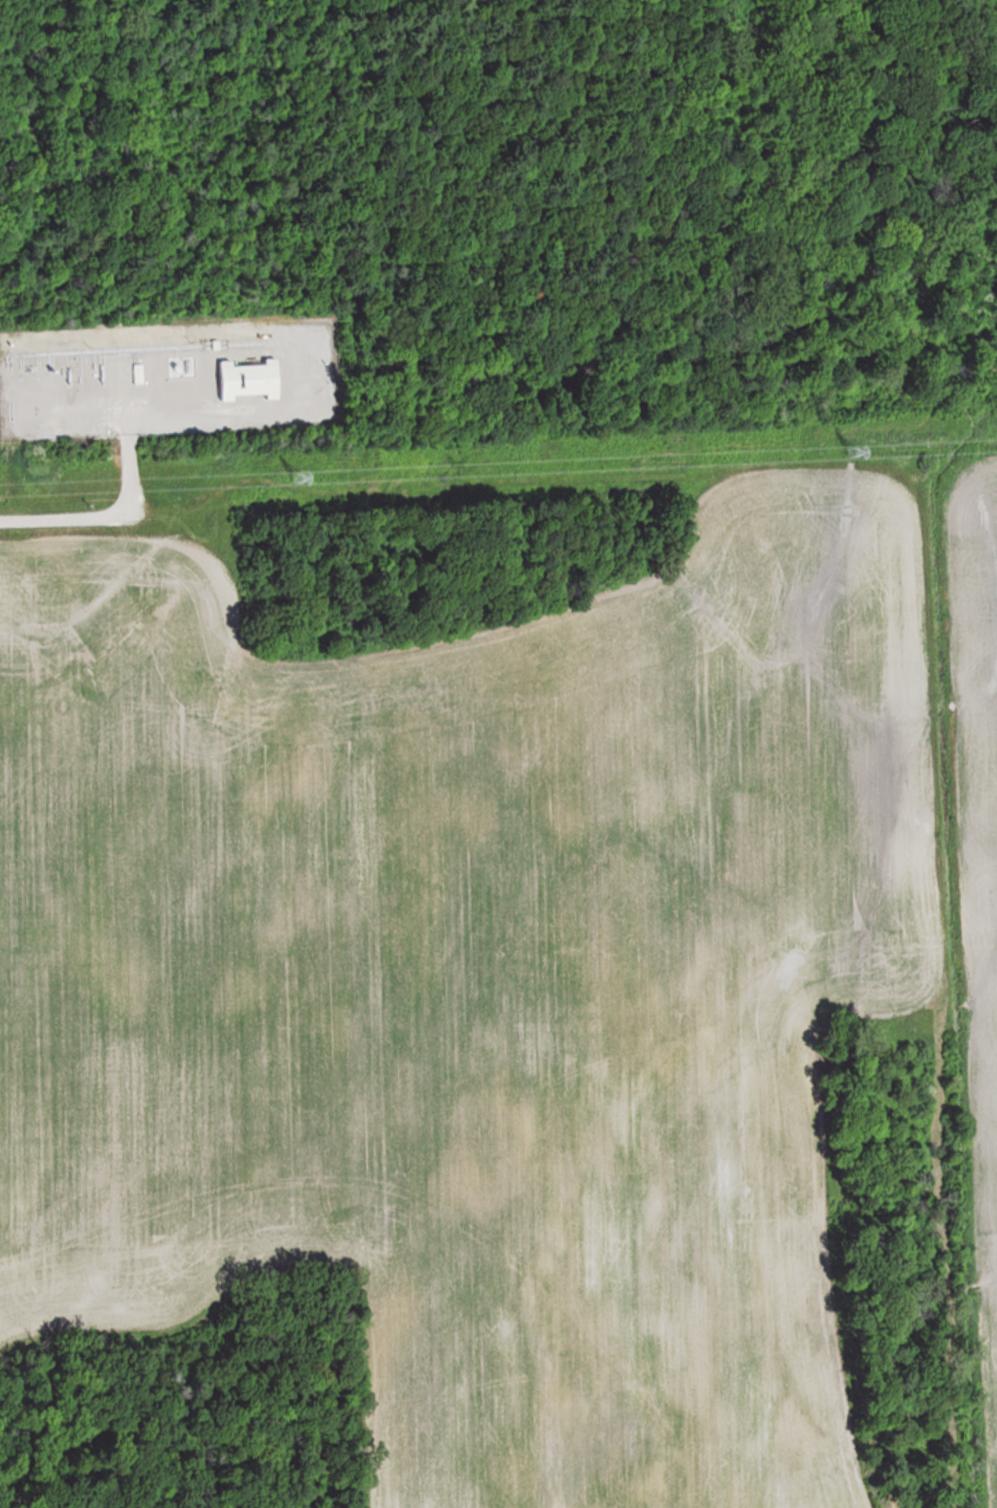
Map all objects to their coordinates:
building: (139, 374)
building: (250, 380)
power tower: (860, 452)
power tower: (300, 478)
road: (118, 509)

